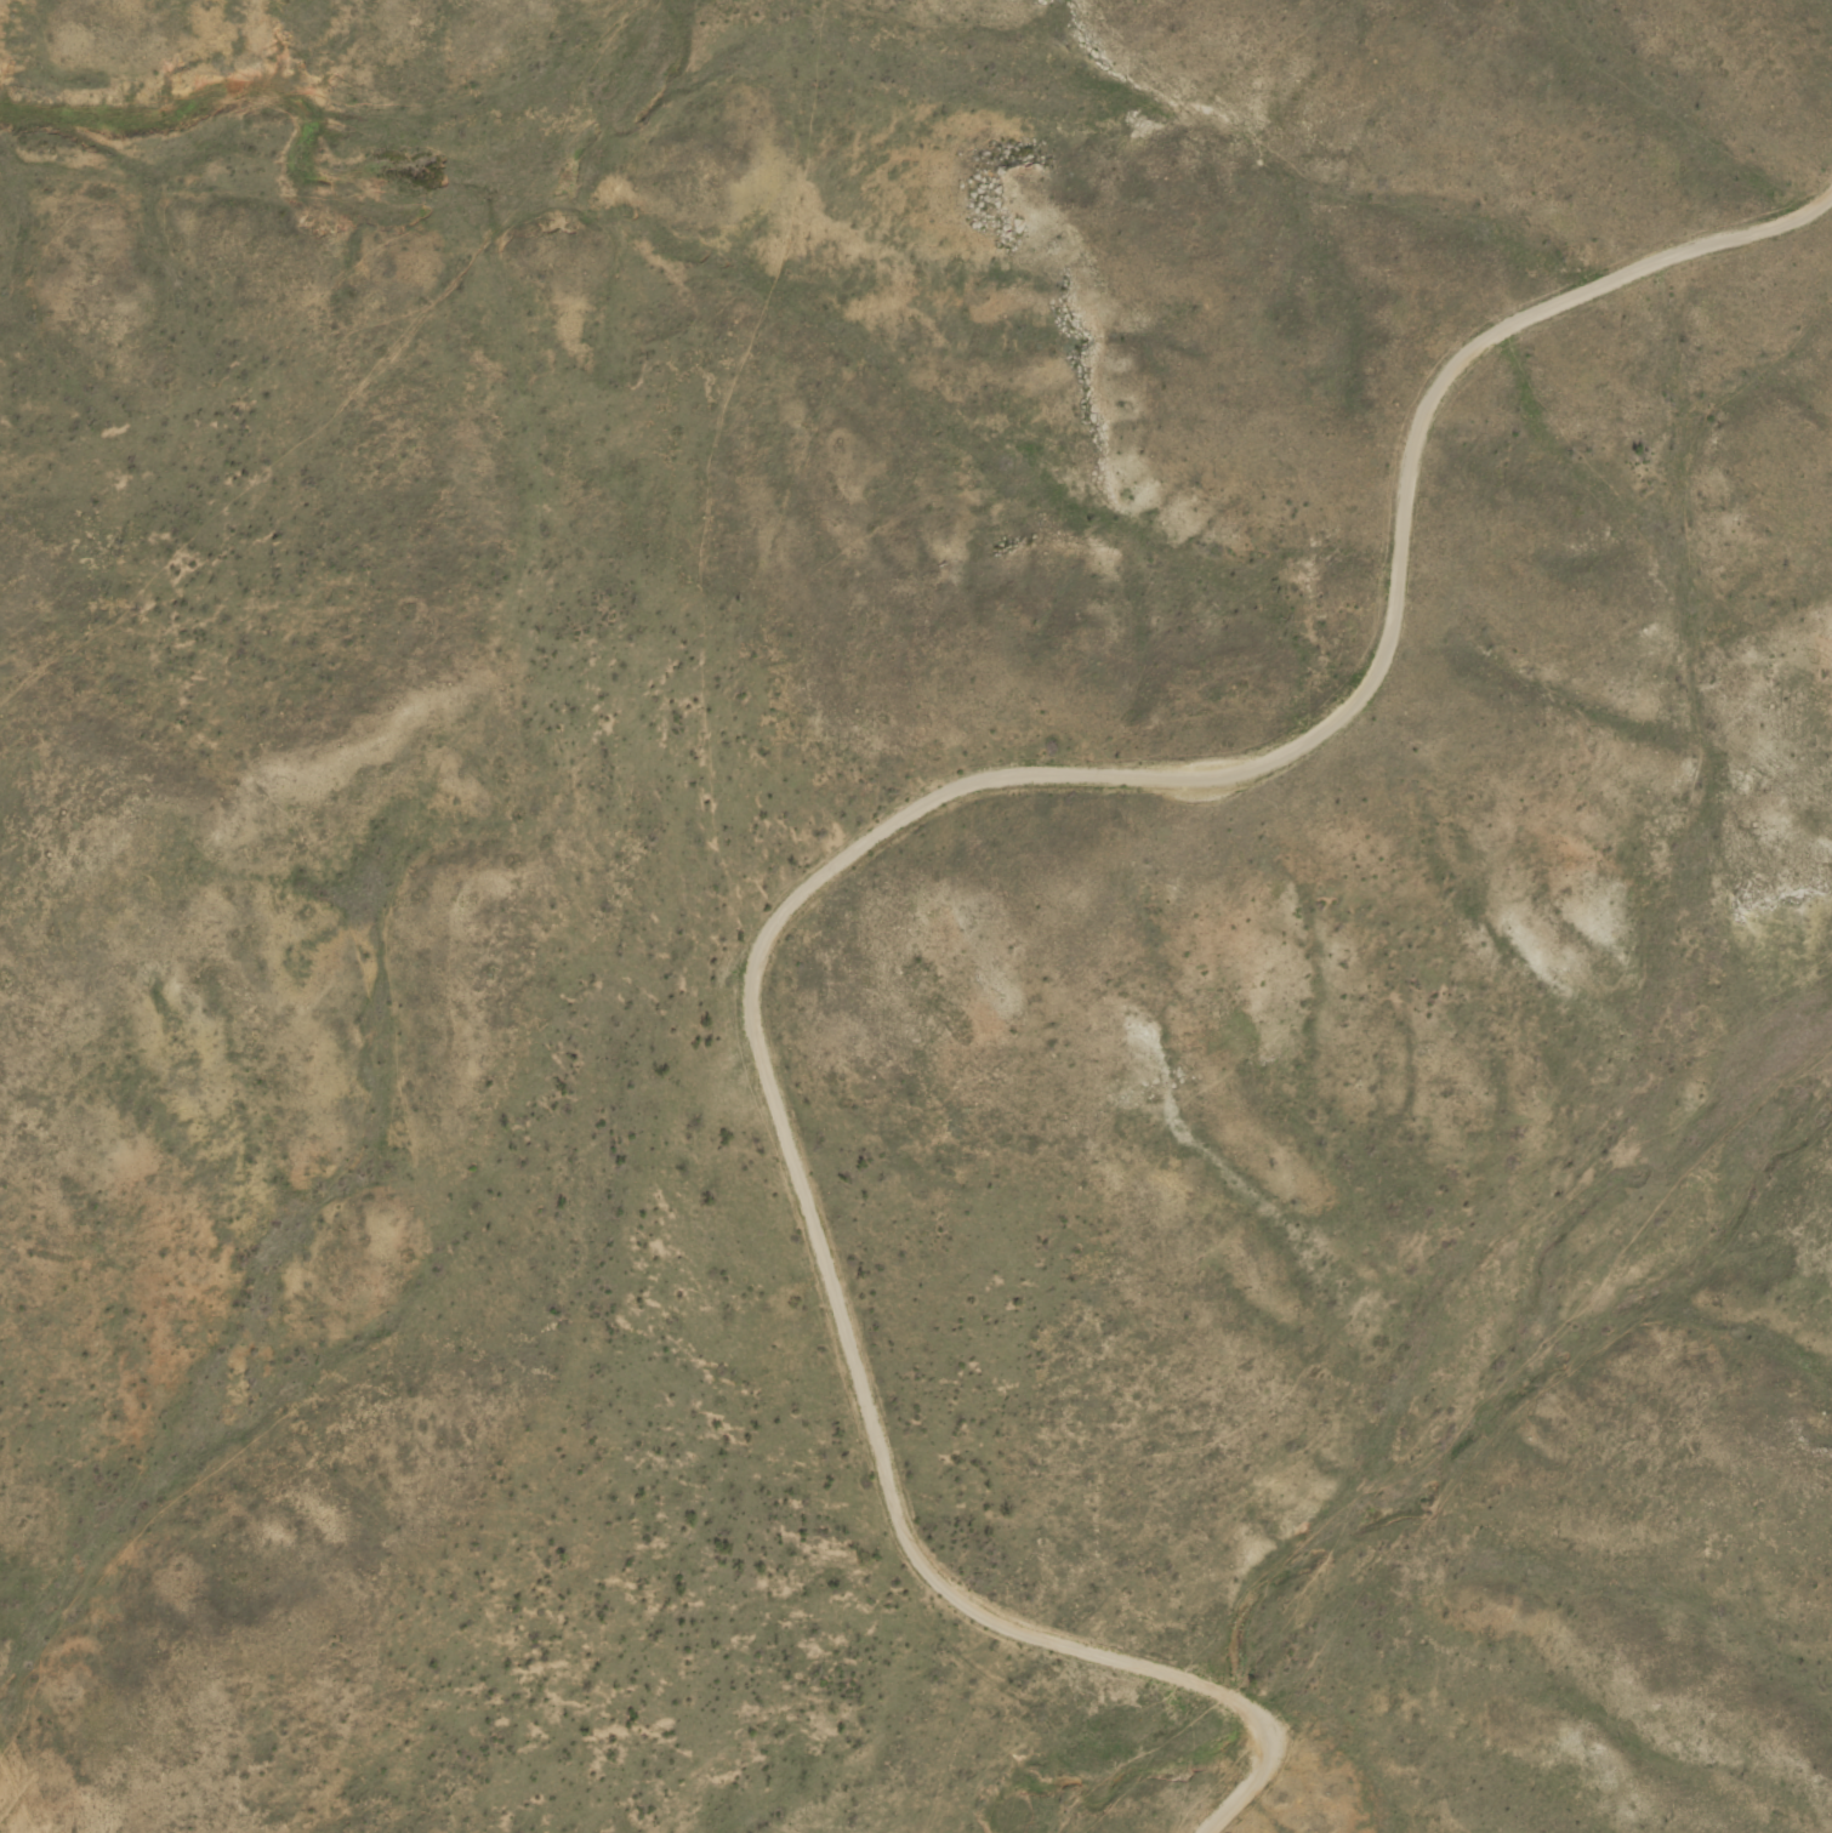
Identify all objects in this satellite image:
road: (470, 1672)

